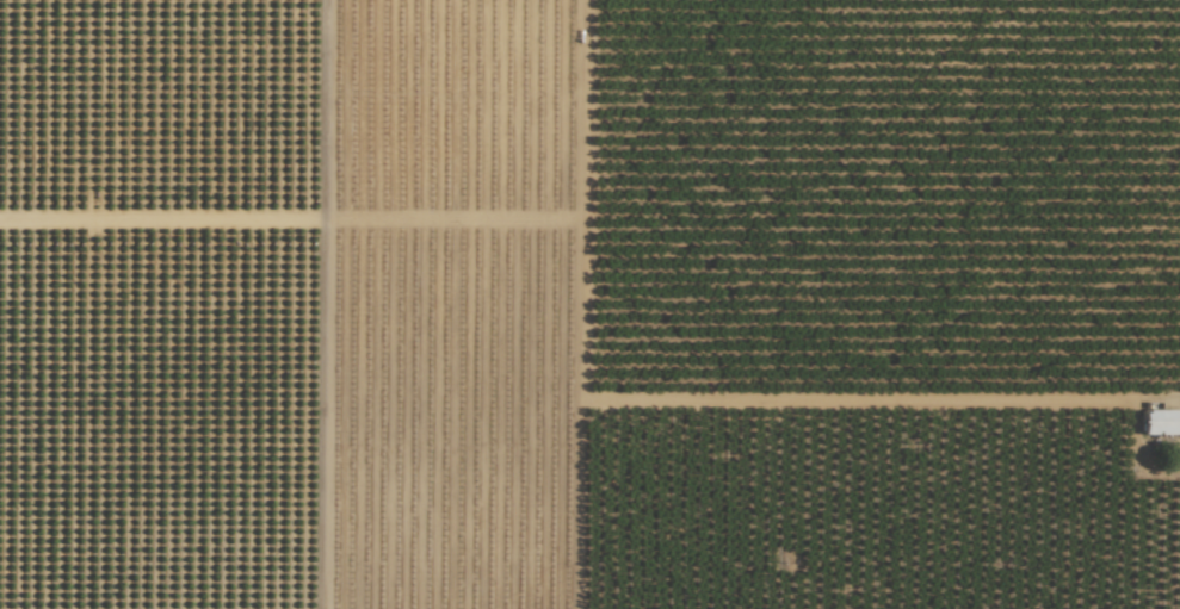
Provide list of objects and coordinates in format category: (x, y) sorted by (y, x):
road: (354, 304)
building: (1162, 423)

